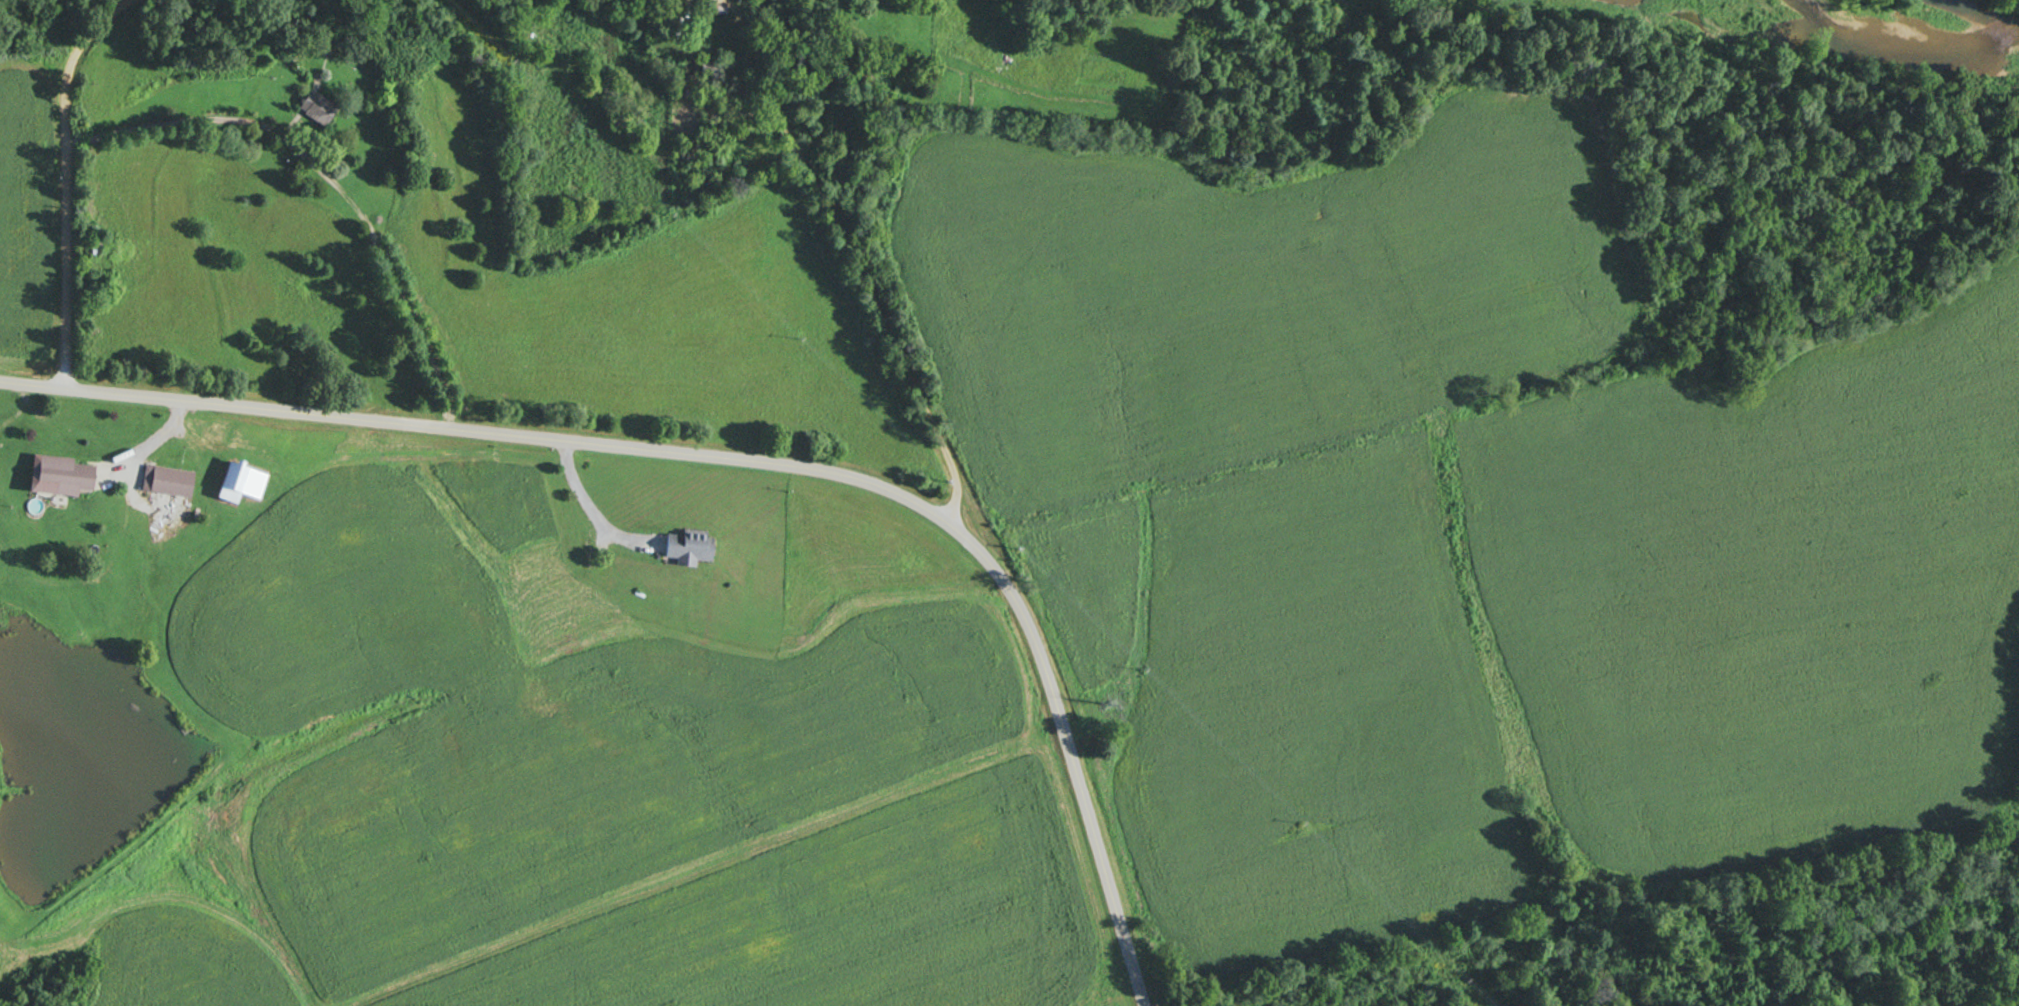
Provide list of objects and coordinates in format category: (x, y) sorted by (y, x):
river: (1838, 24)
building: (311, 108)
road: (327, 180)
road: (65, 190)
building: (92, 247)
road: (863, 266)
road: (740, 462)
building: (59, 475)
building: (168, 482)
building: (237, 483)
building: (685, 548)

